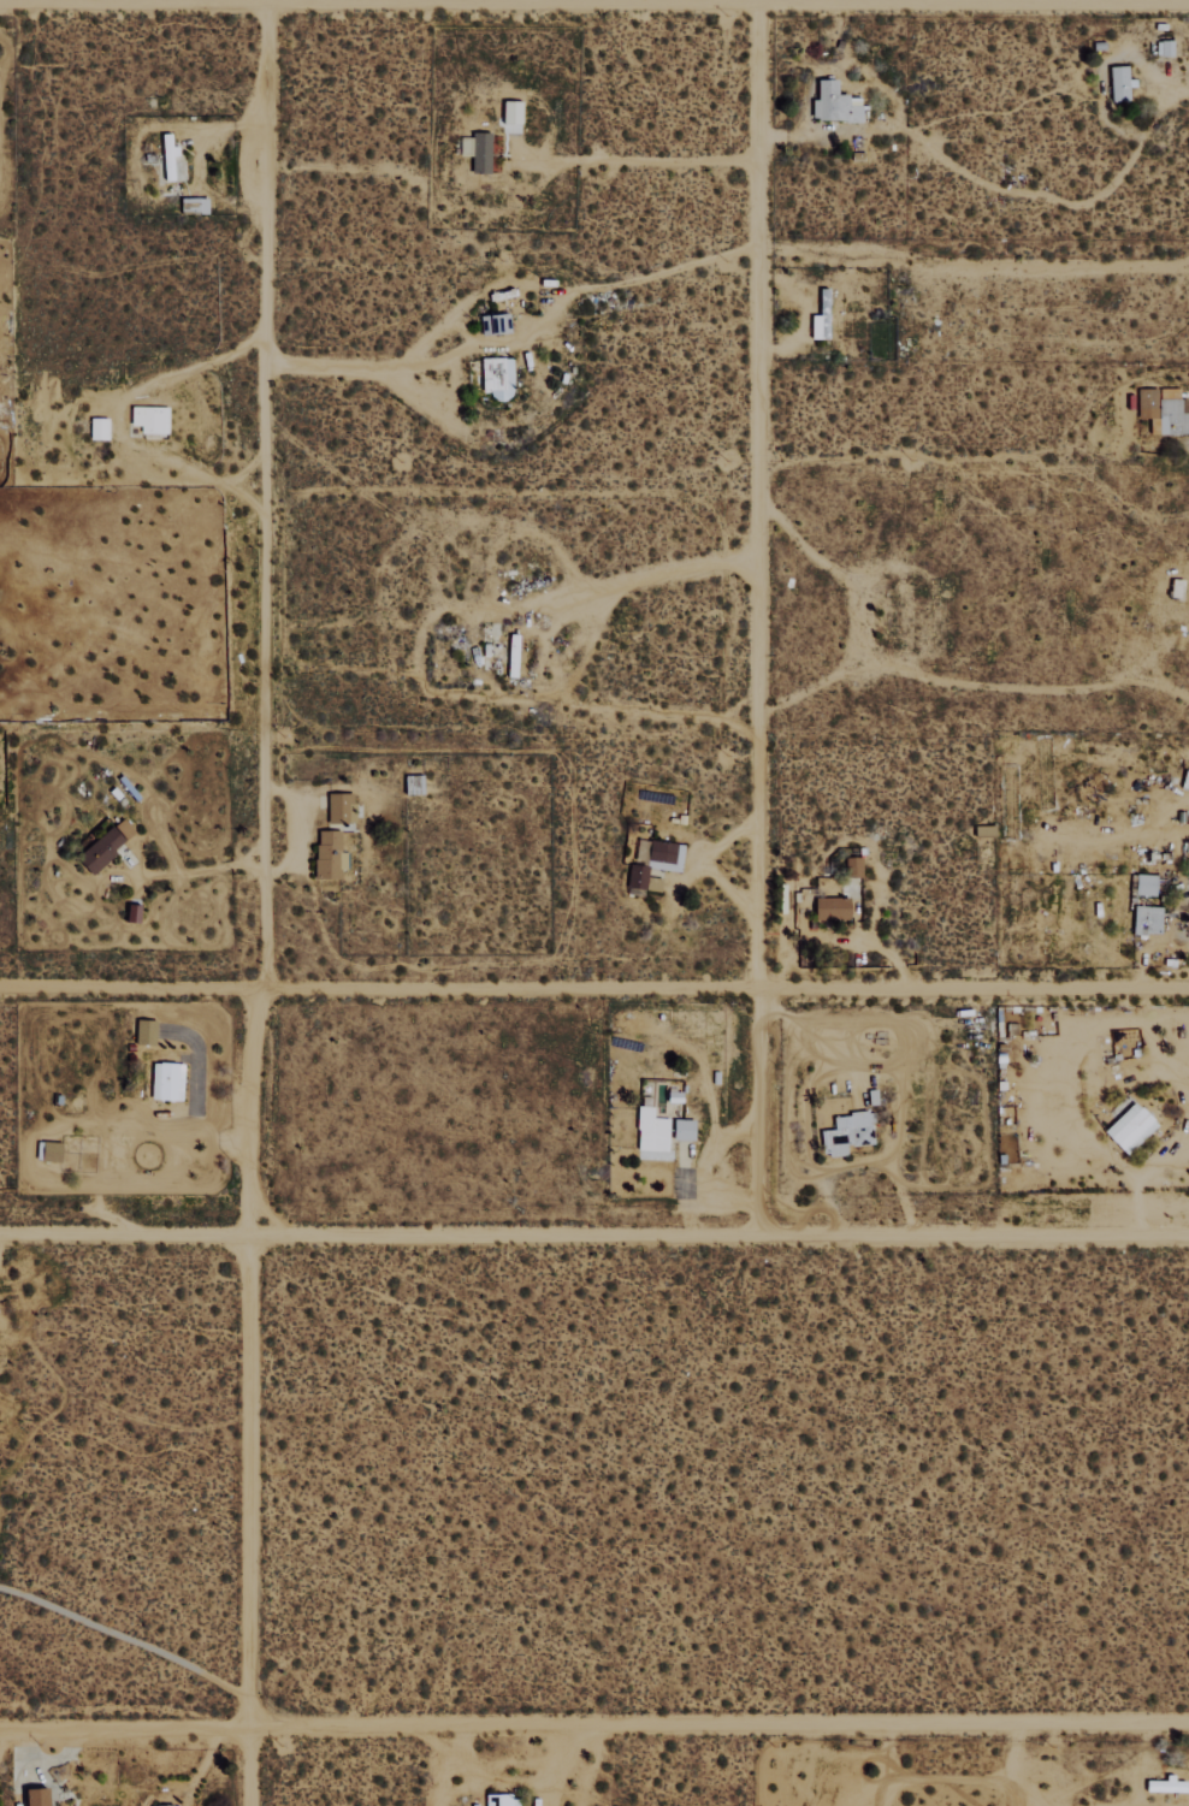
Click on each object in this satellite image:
road: (593, 4)
building: (1117, 82)
road: (1173, 89)
building: (832, 103)
building: (509, 111)
building: (478, 152)
building: (167, 159)
building: (191, 205)
building: (816, 326)
building: (495, 377)
building: (1160, 411)
building: (147, 419)
building: (96, 428)
road: (757, 617)
building: (337, 807)
building: (982, 830)
building: (103, 845)
building: (326, 854)
building: (662, 855)
building: (637, 877)
building: (1143, 884)
road: (258, 902)
building: (829, 908)
building: (1144, 919)
road: (593, 988)
building: (143, 1032)
building: (165, 1082)
building: (1128, 1127)
building: (681, 1129)
building: (650, 1130)
building: (844, 1133)
building: (48, 1150)
road: (593, 1236)
road: (593, 1725)
building: (1164, 1786)
building: (31, 1796)
building: (504, 1800)
building: (170, 1805)

